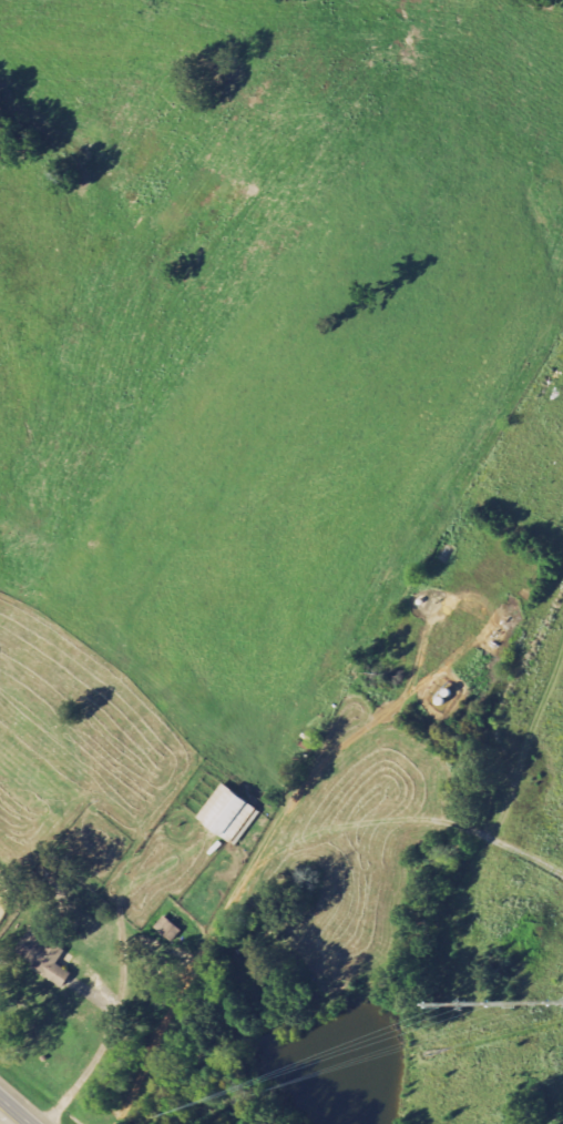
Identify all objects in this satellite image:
building: (235, 813)
building: (171, 928)
building: (49, 956)
road: (4, 1120)

